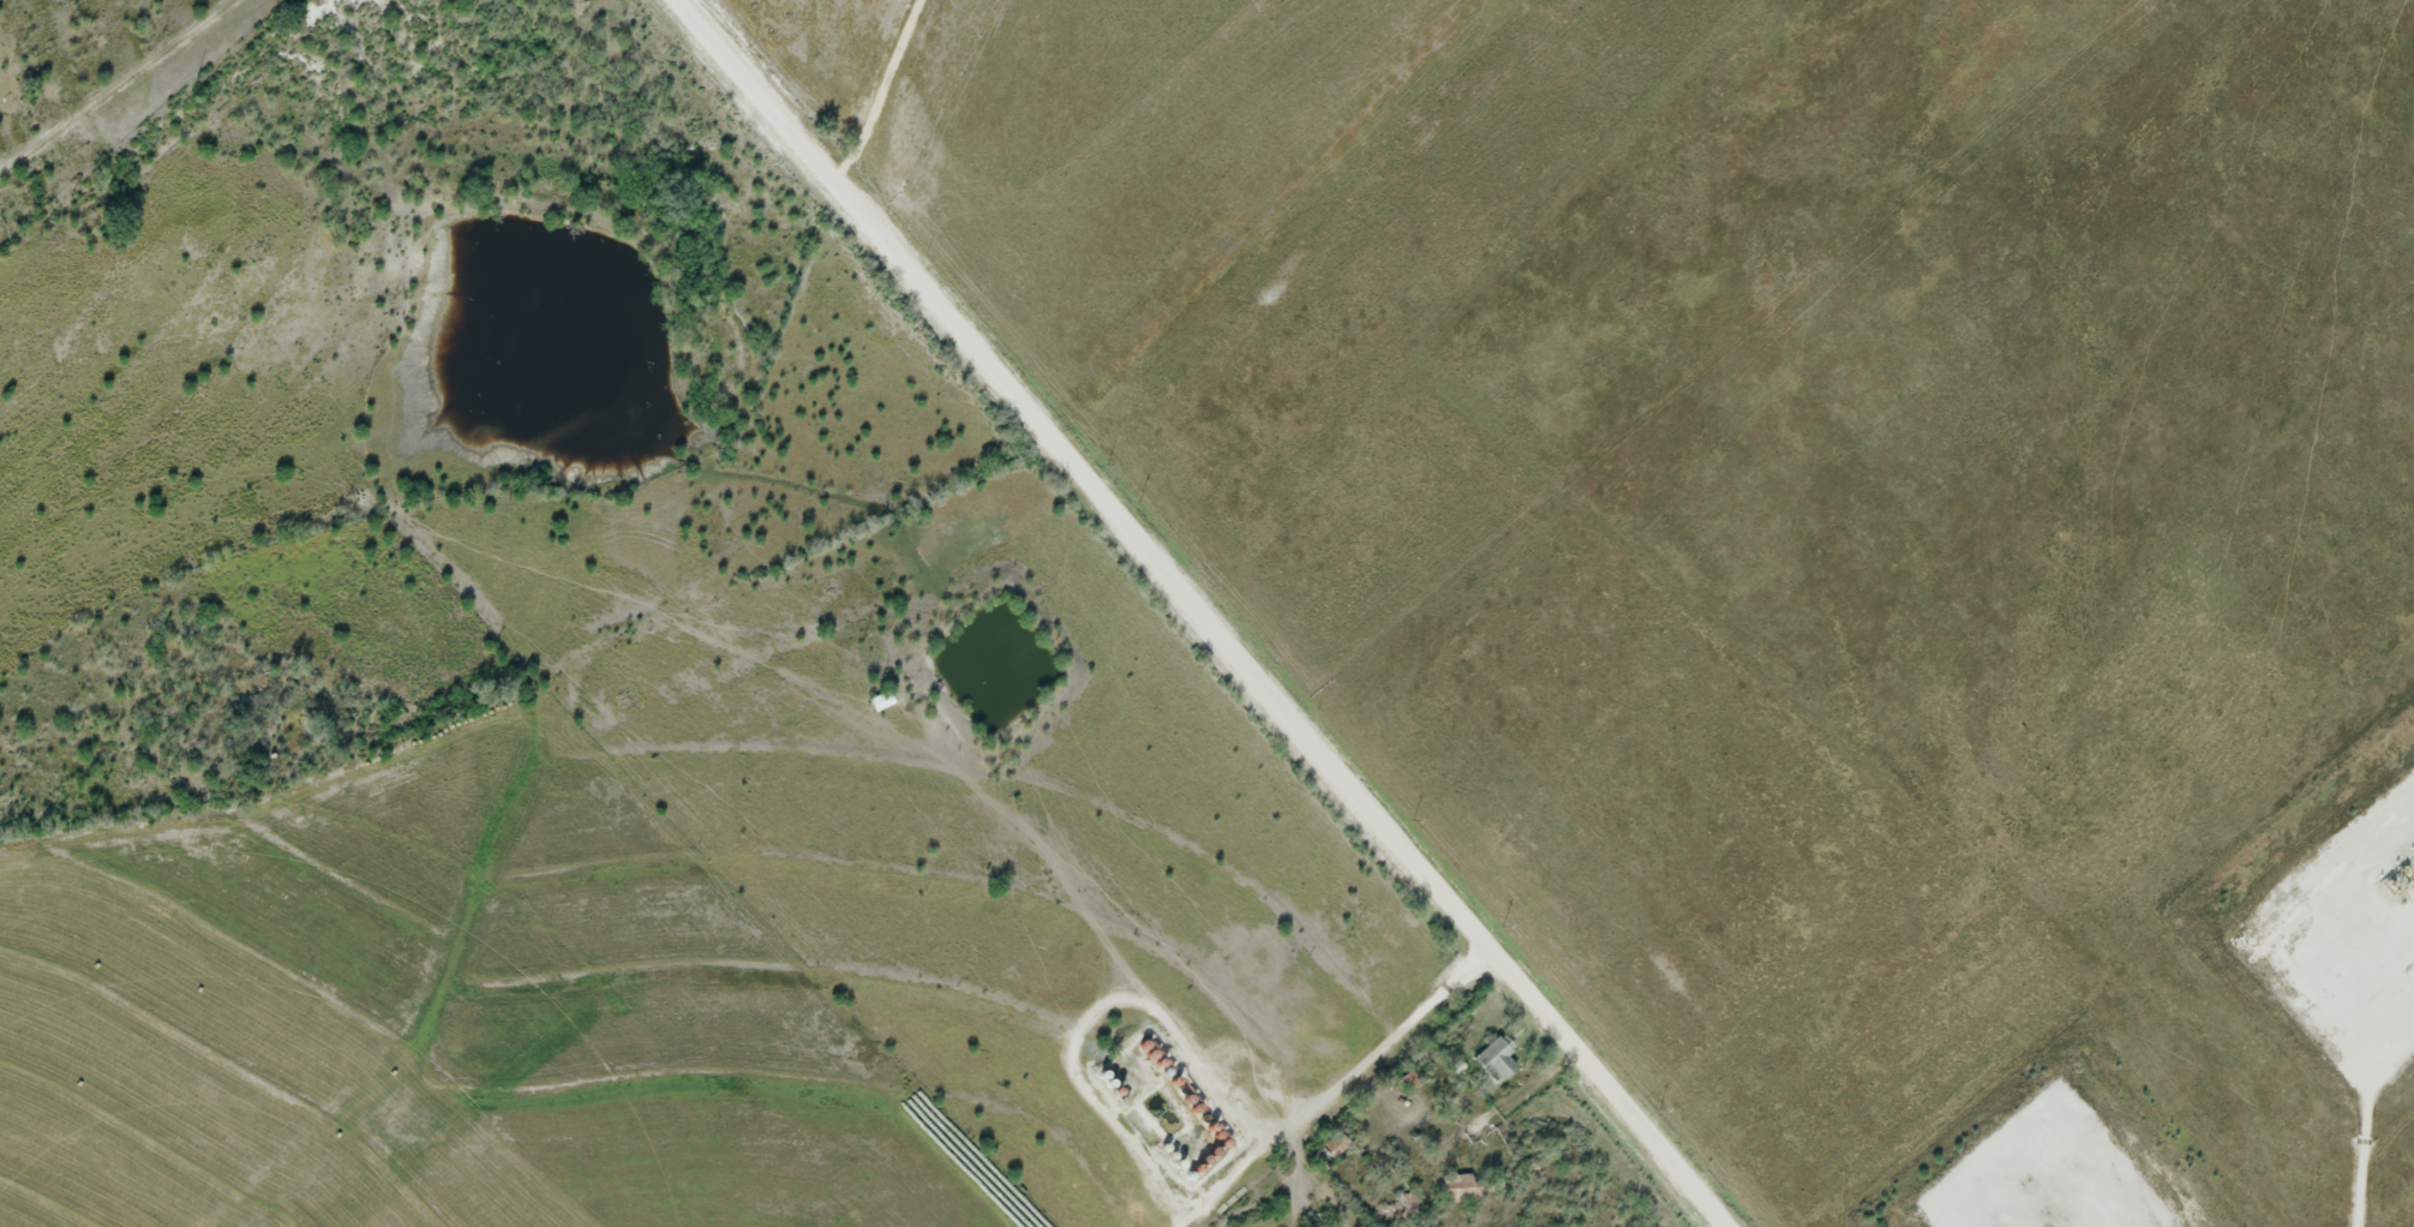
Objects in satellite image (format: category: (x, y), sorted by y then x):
road: (882, 90)
road: (1211, 612)
building: (1496, 1061)
road: (2371, 1136)
road: (2043, 1174)
building: (1460, 1190)
building: (1397, 1211)
road: (1726, 1223)

